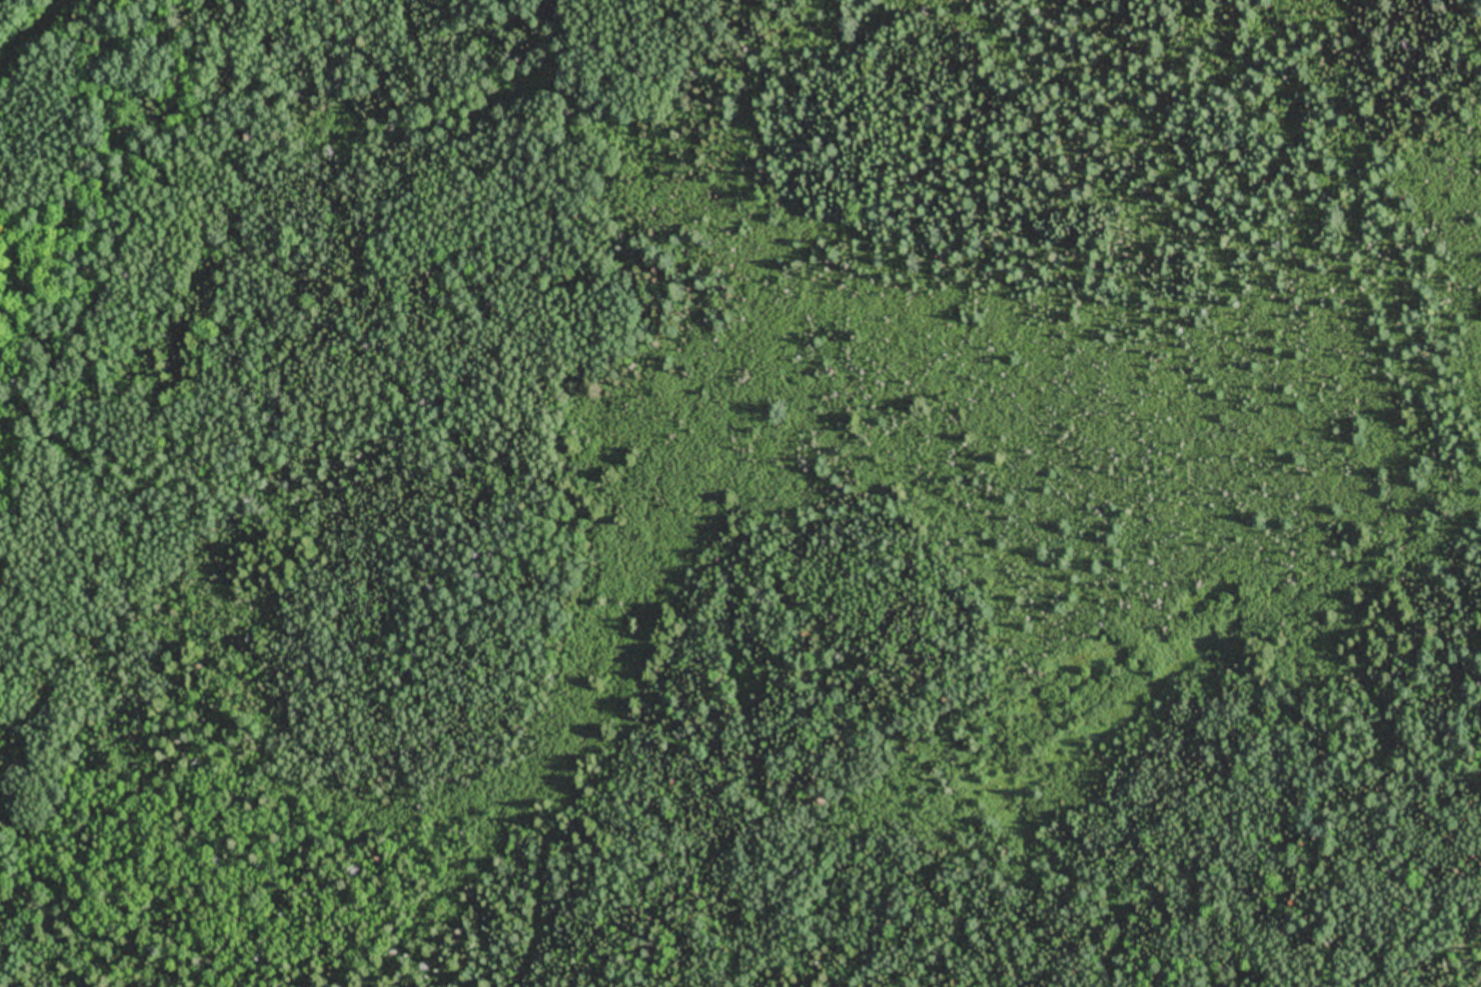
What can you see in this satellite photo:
road: (51, 46)

